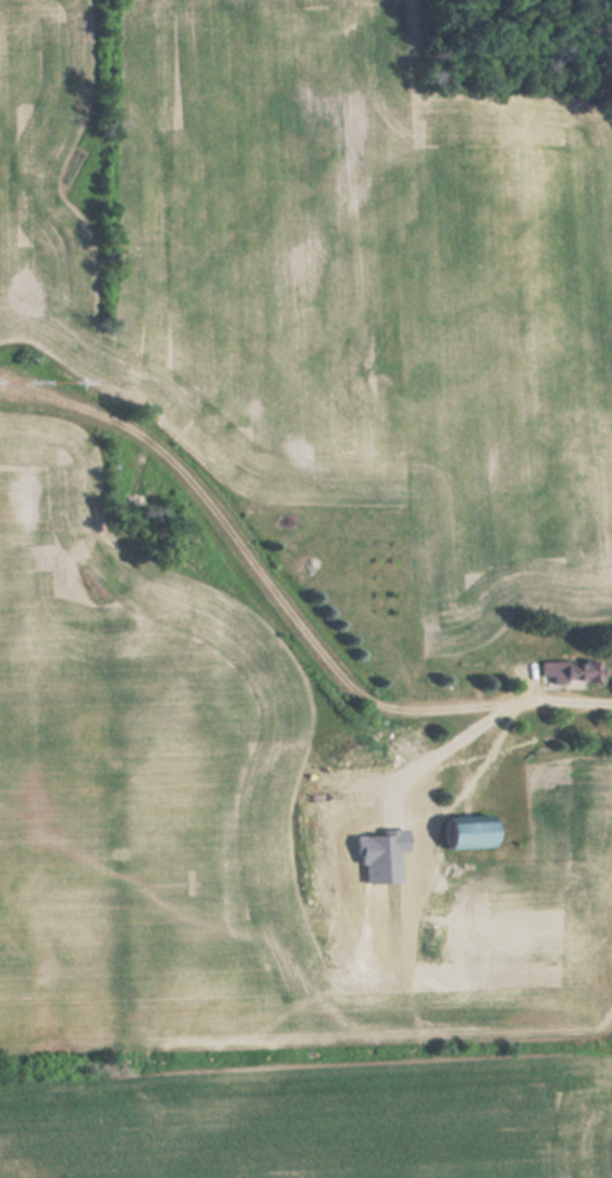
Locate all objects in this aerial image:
park: (513, 43)
building: (564, 666)
building: (460, 830)

